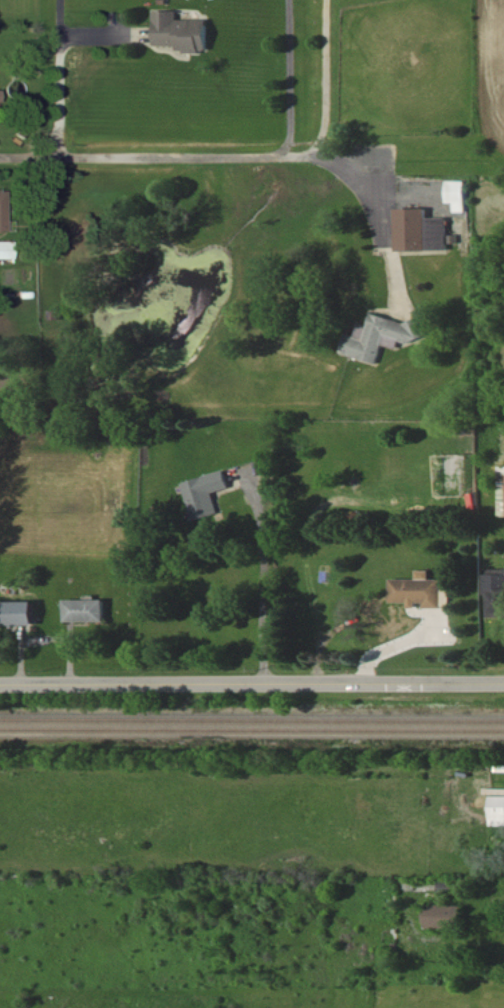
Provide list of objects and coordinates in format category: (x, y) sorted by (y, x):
building: (184, 35)
road: (58, 76)
road: (323, 78)
road: (290, 80)
road: (179, 156)
building: (459, 196)
building: (1, 202)
building: (423, 232)
road: (377, 233)
building: (8, 251)
building: (379, 340)
building: (207, 495)
road: (263, 580)
building: (499, 588)
building: (90, 612)
building: (22, 615)
road: (396, 645)
road: (251, 681)
railway: (252, 717)
railway: (252, 726)
building: (498, 812)
building: (449, 919)

